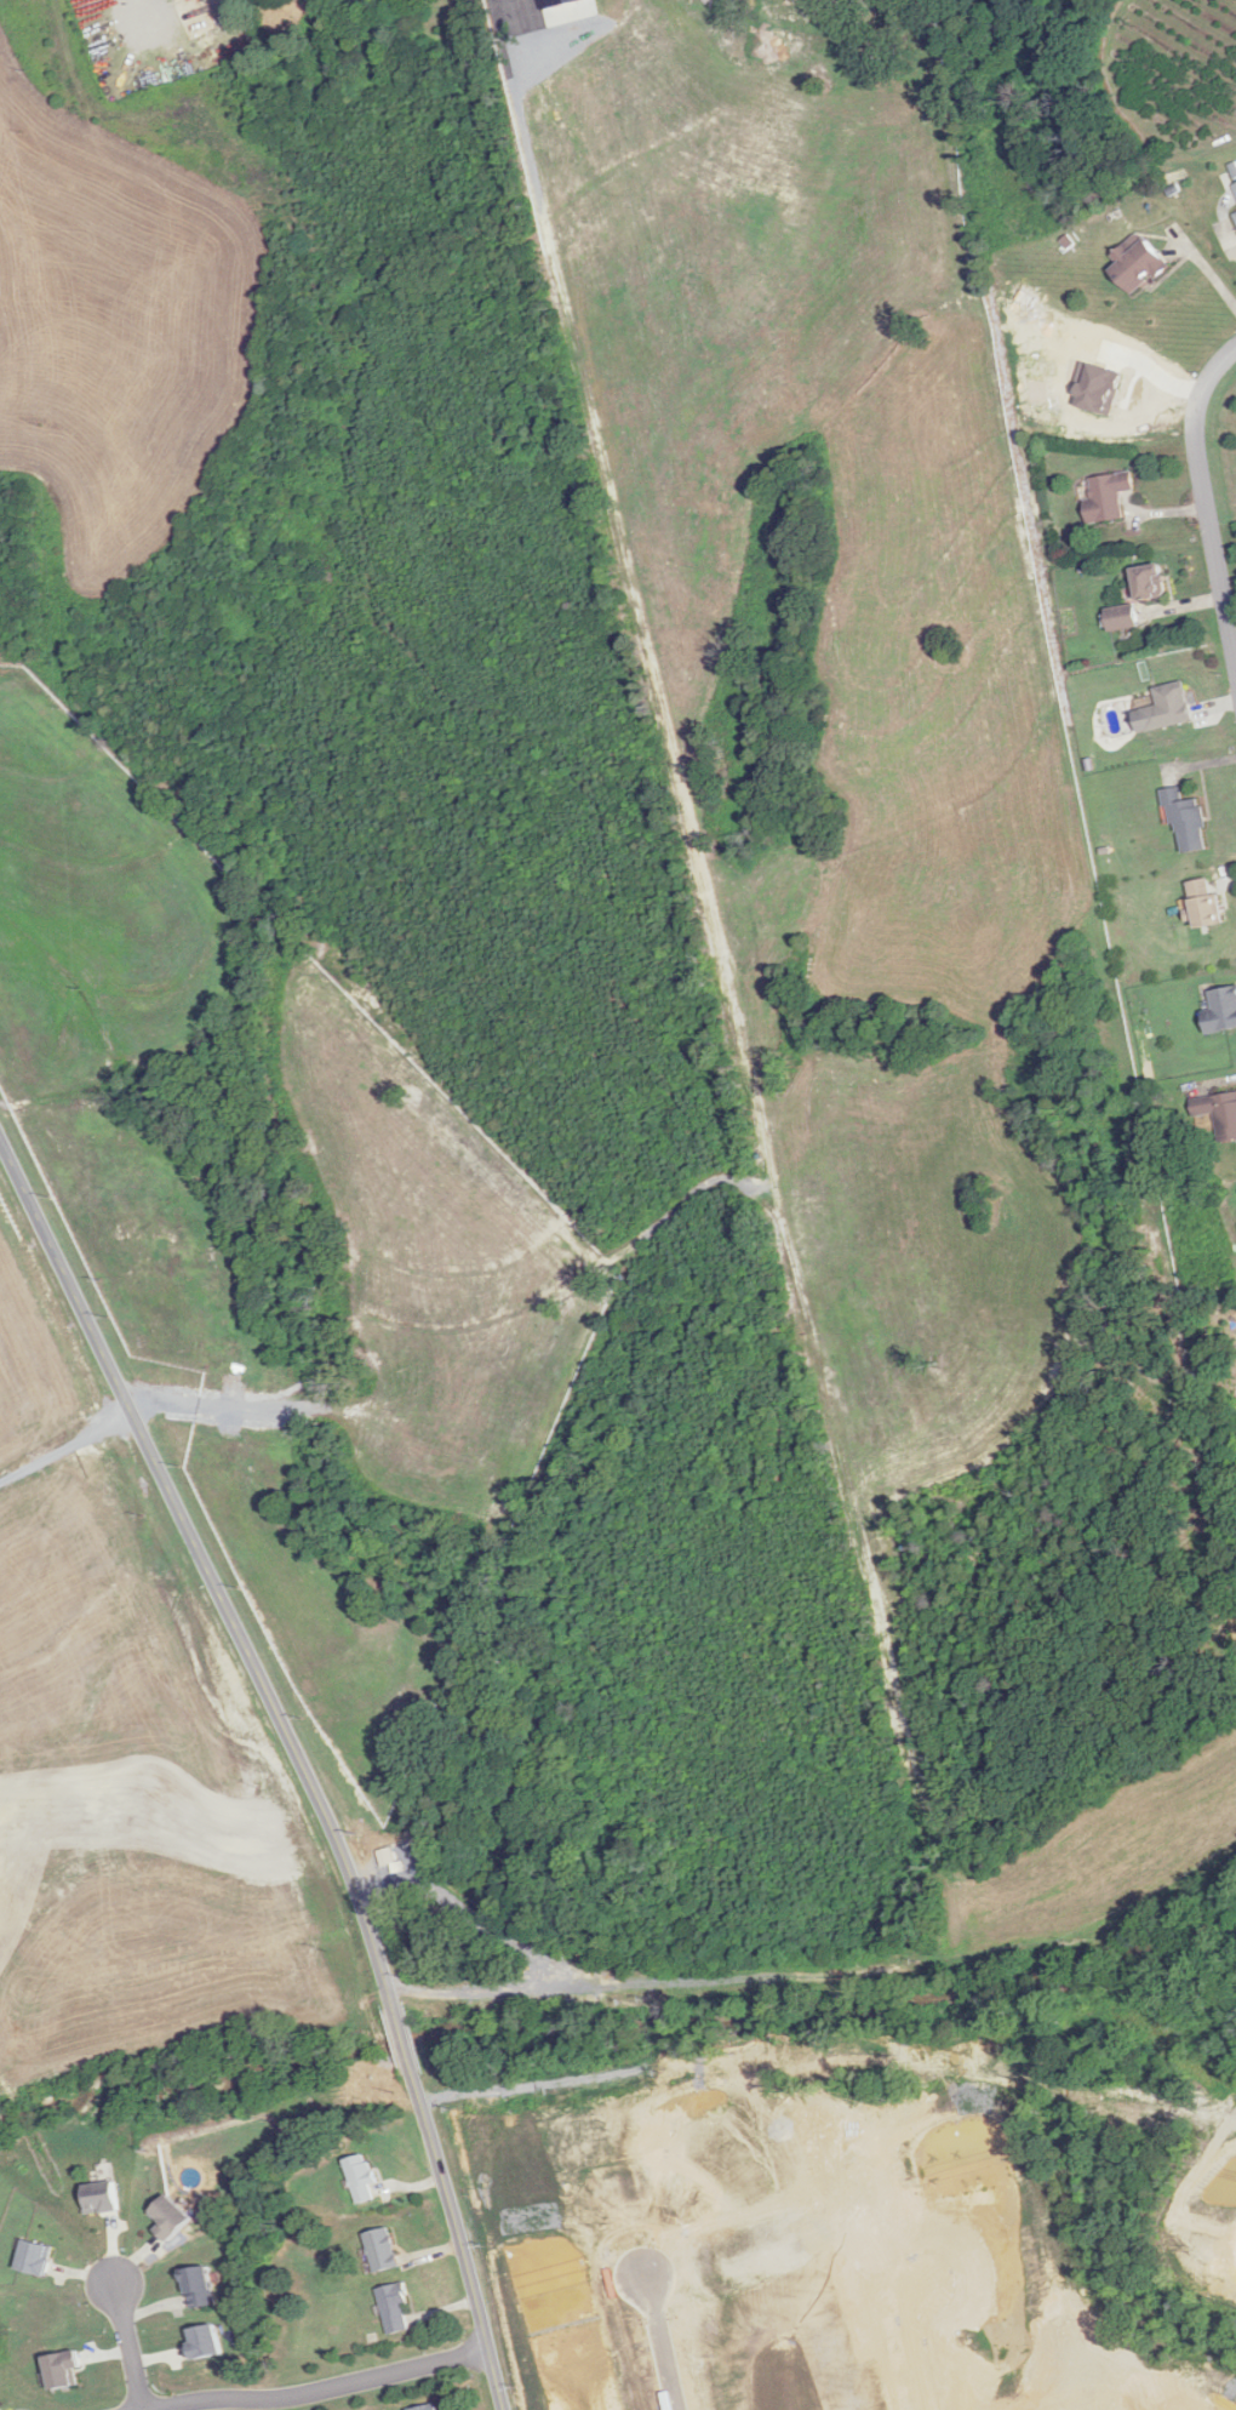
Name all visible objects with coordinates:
building: (1235, 188)
building: (1235, 215)
building: (1139, 263)
road: (1201, 280)
building: (1109, 496)
road: (1204, 502)
building: (1152, 582)
building: (1123, 617)
building: (1171, 707)
building: (1186, 819)
building: (1207, 903)
building: (1221, 1011)
building: (1218, 1113)
building: (236, 1375)
building: (111, 1532)
road: (301, 1759)
building: (362, 2177)
building: (103, 2198)
building: (171, 2218)
building: (383, 2250)
building: (38, 2257)
building: (200, 2288)
building: (396, 2308)
building: (204, 2341)
road: (658, 2345)
road: (126, 2349)
building: (64, 2369)
road: (319, 2392)
building: (429, 2408)

